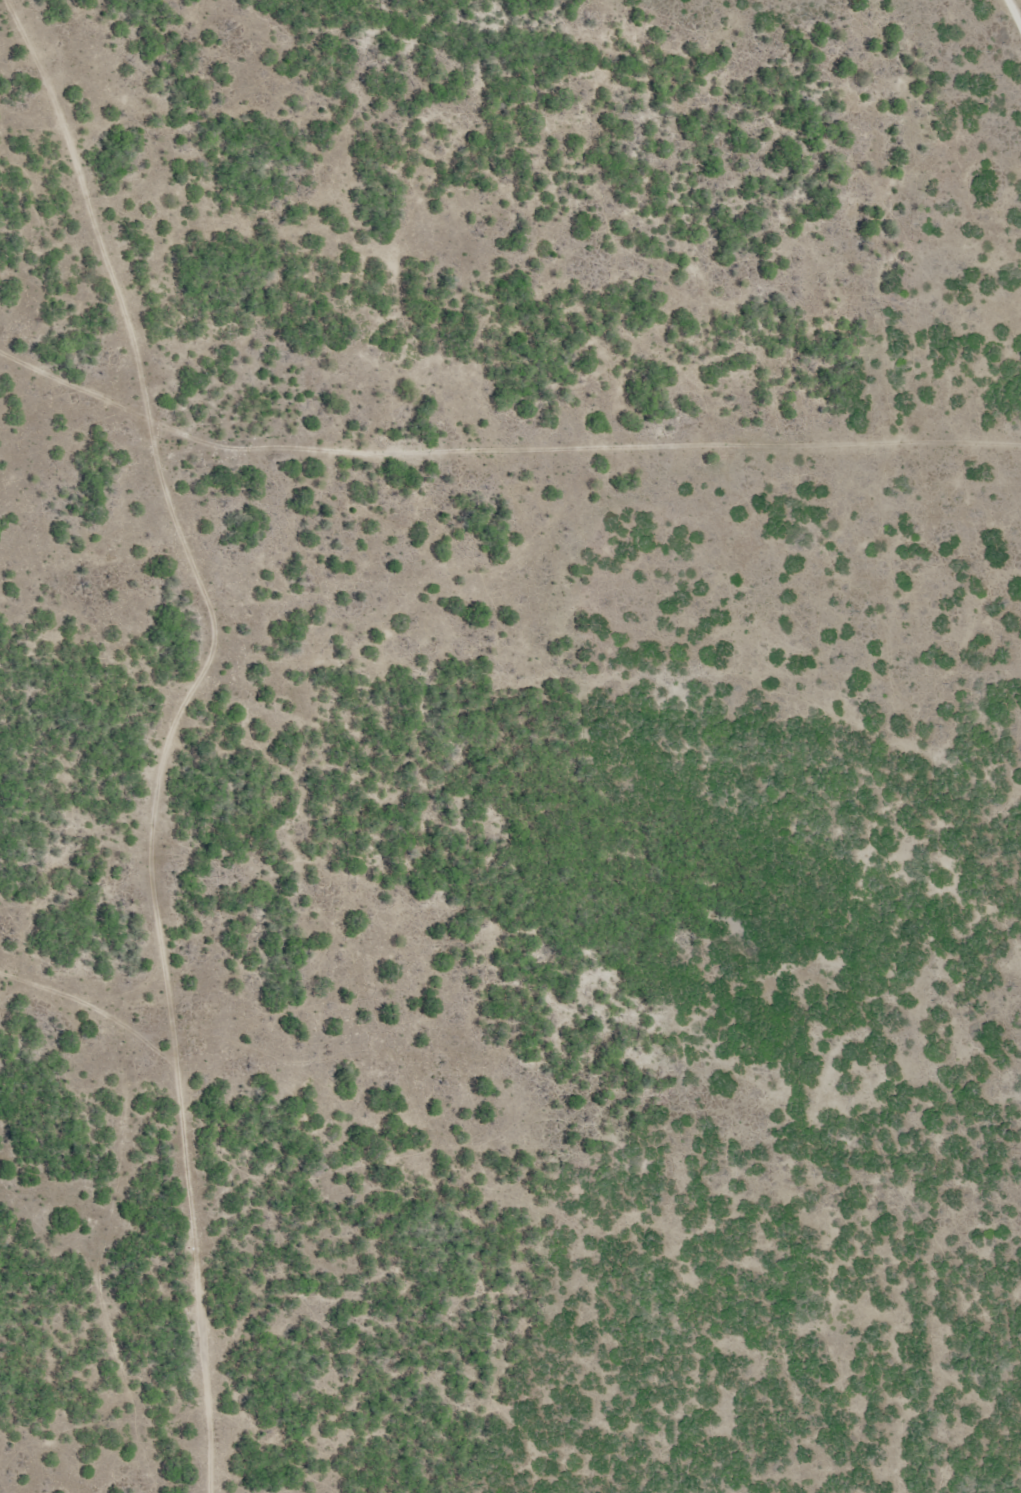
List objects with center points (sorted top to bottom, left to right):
road: (1006, 28)

